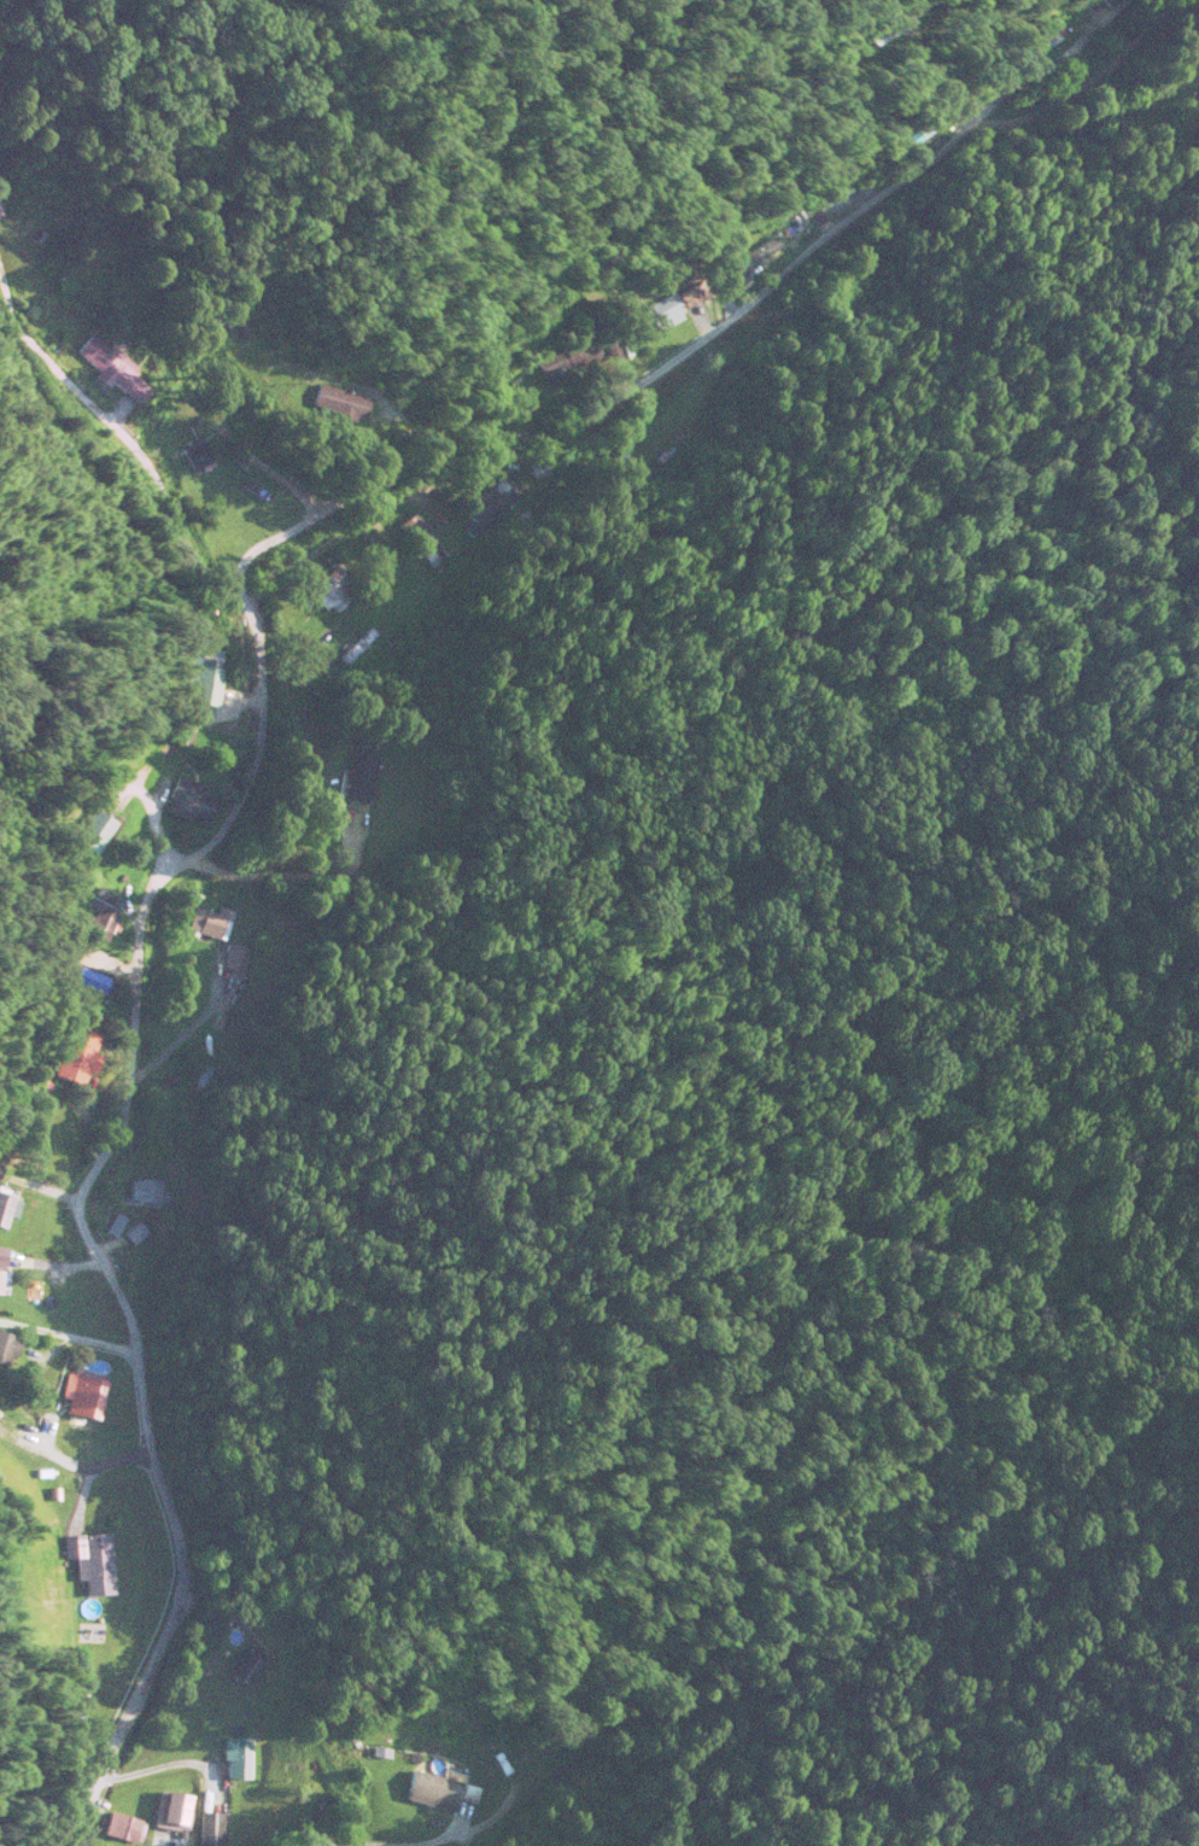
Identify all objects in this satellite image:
building: (659, 315)
road: (721, 332)
road: (127, 442)
road: (129, 1055)
building: (145, 1193)
road: (70, 1339)
building: (428, 1793)
road: (462, 1834)

